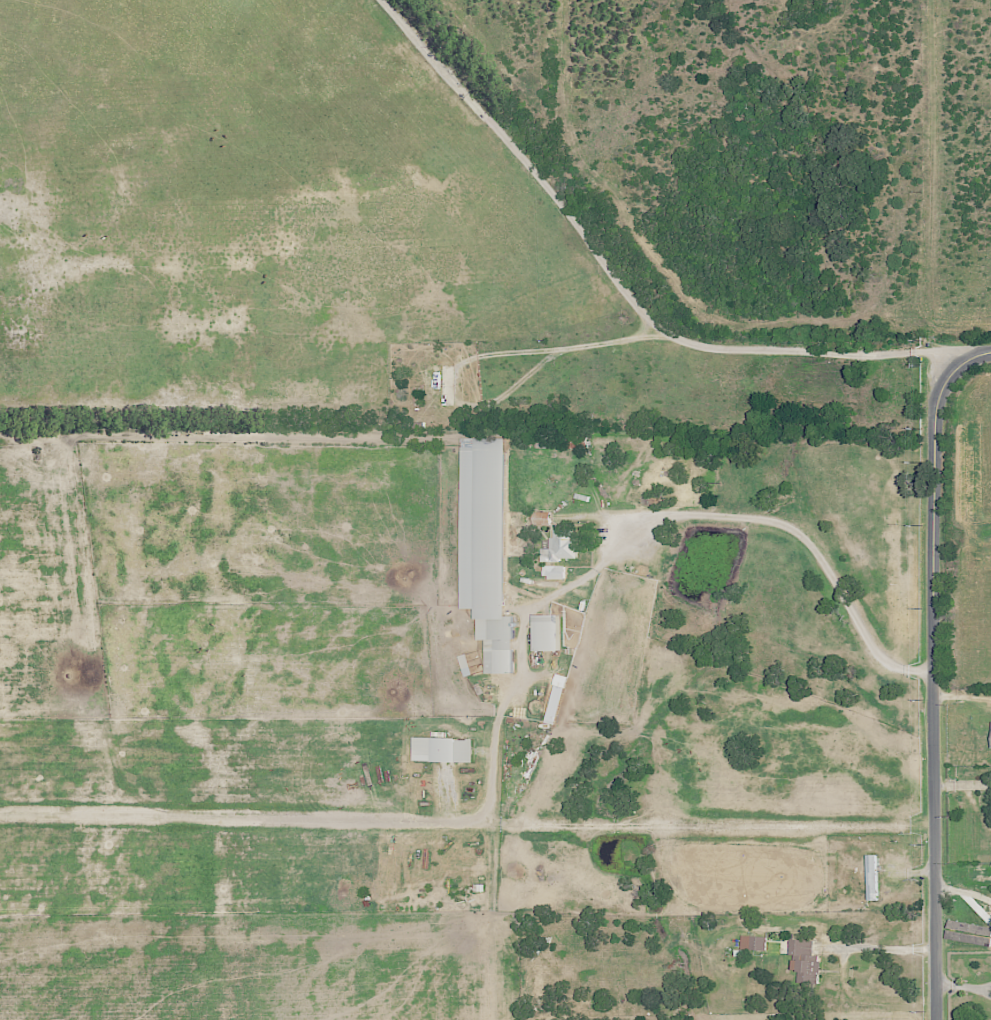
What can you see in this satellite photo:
road: (617, 285)
road: (648, 522)
building: (563, 545)
building: (486, 546)
building: (555, 571)
building: (547, 632)
building: (466, 664)
road: (934, 671)
building: (556, 698)
building: (443, 749)
building: (873, 877)
road: (962, 895)
building: (754, 942)
road: (882, 949)

